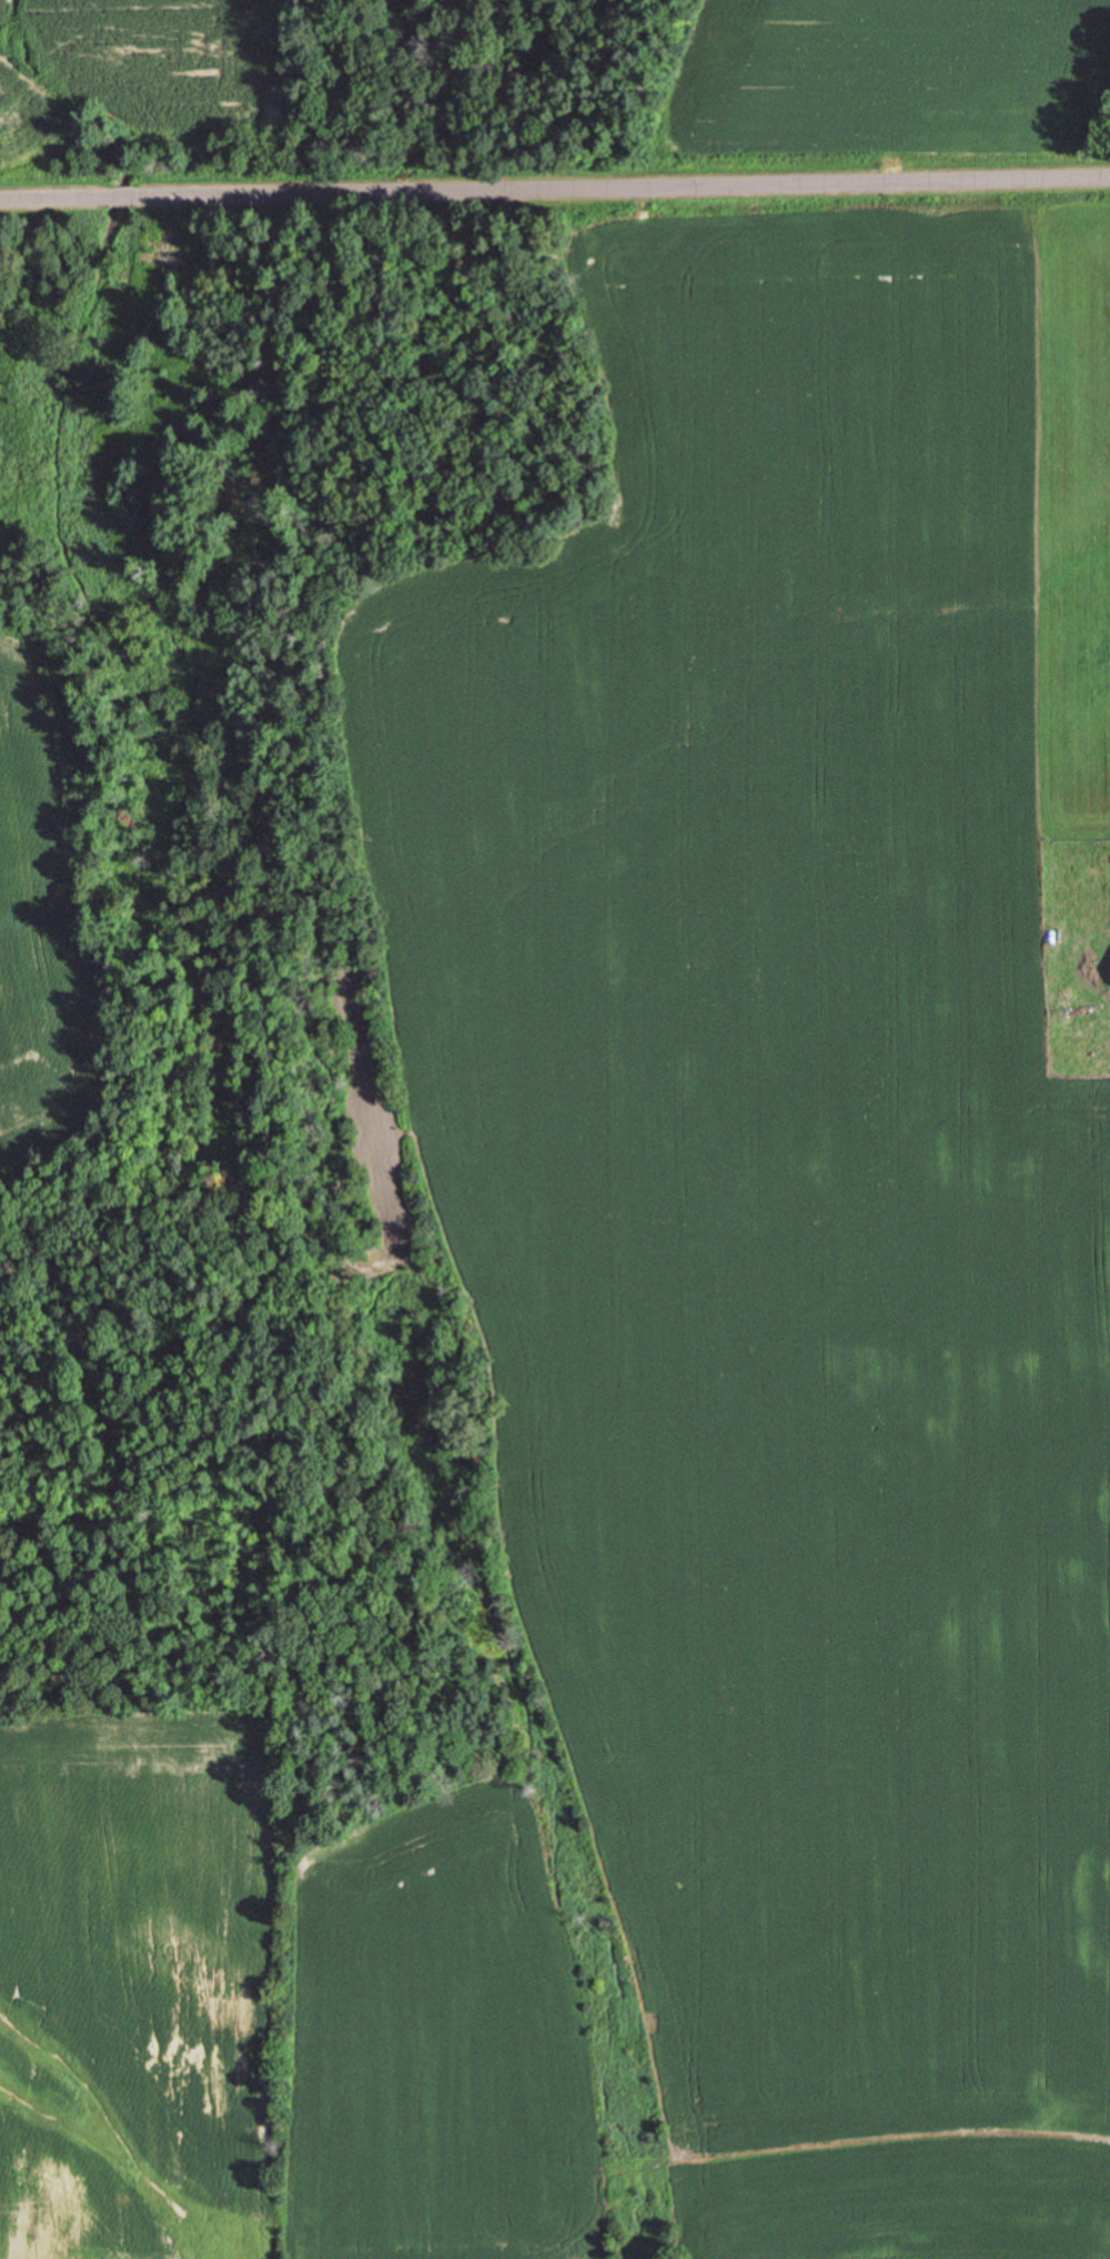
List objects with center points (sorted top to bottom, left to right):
road: (555, 222)

